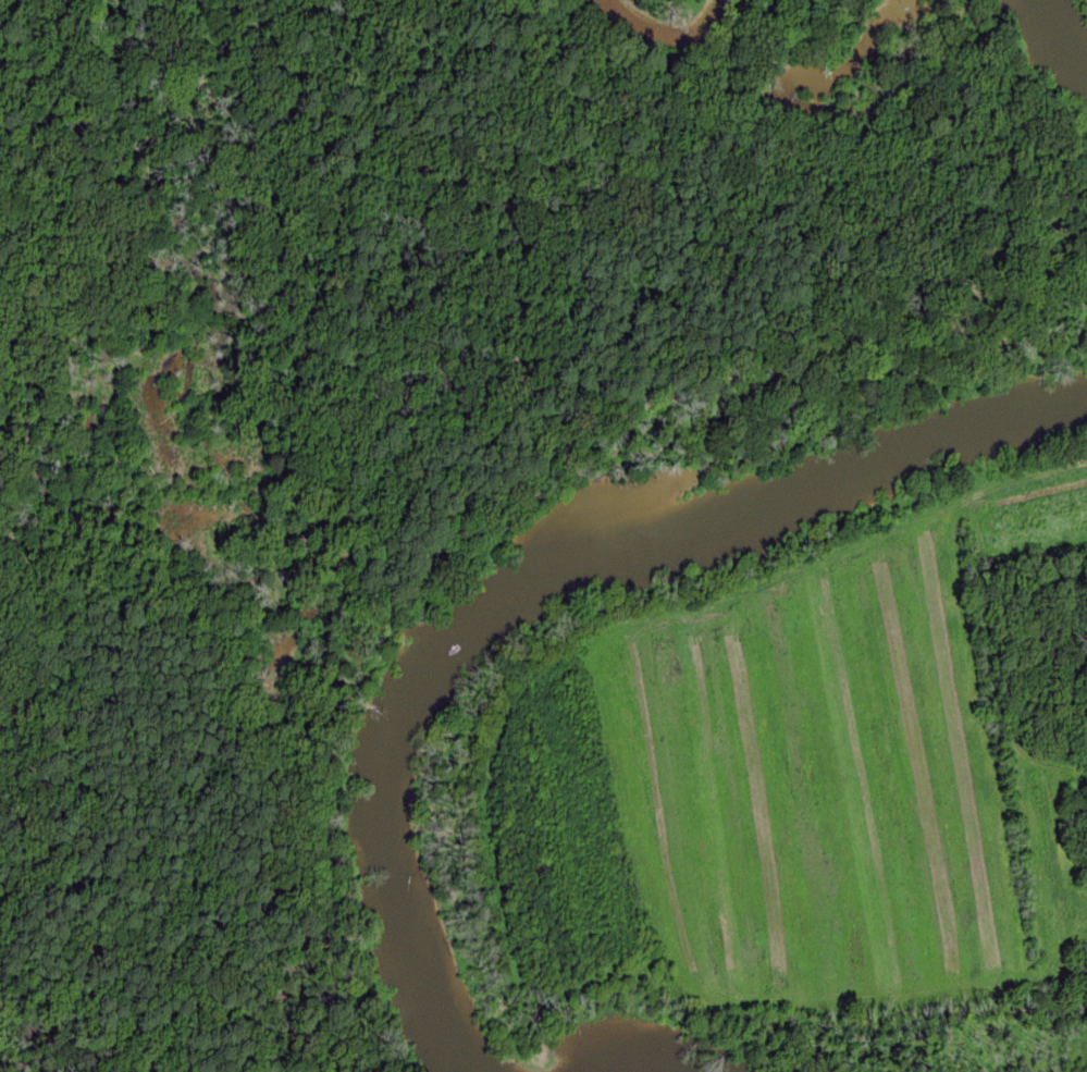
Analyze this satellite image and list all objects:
river: (1063, 33)
river: (553, 596)
river: (638, 1063)

